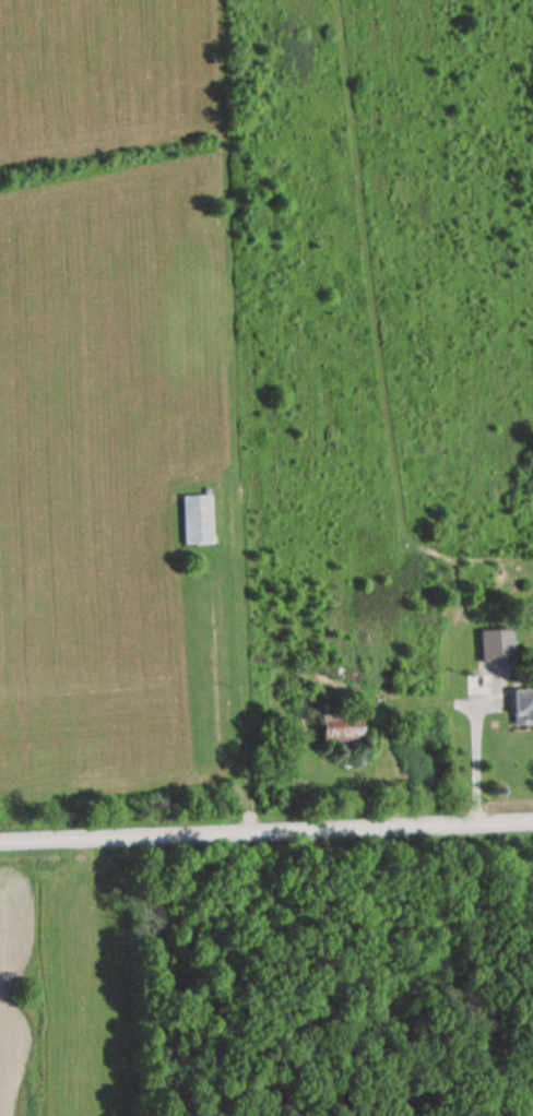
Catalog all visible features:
road: (222, 418)
building: (196, 519)
building: (522, 707)
building: (339, 727)
road: (476, 769)
road: (266, 836)

